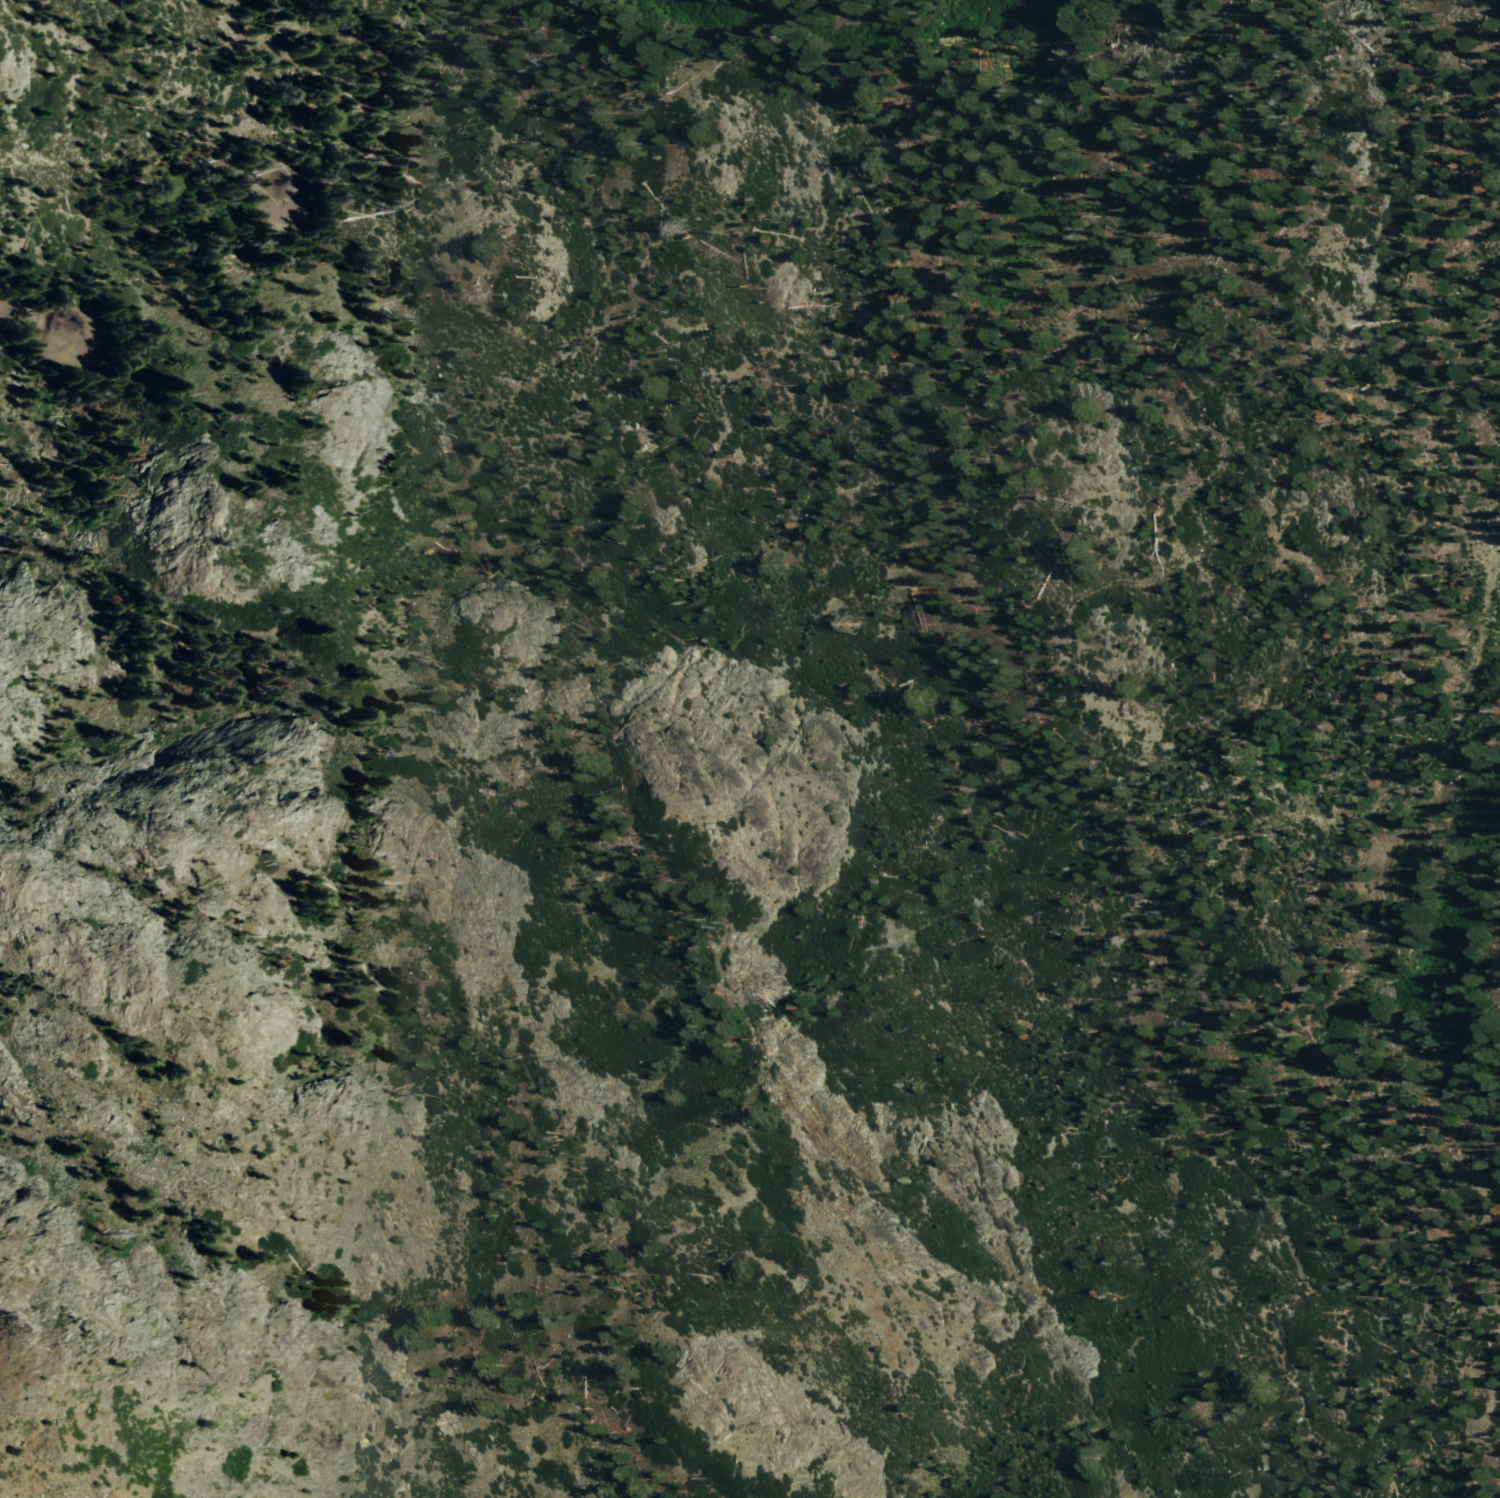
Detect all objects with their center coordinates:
road: (1178, 259)
road: (1458, 726)

